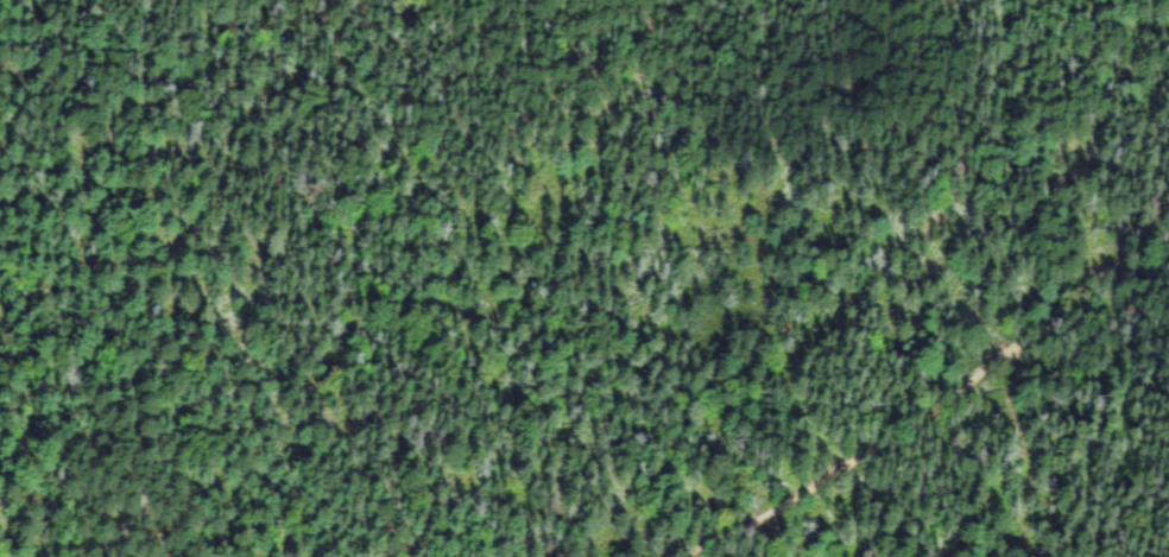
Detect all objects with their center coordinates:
road: (927, 420)

